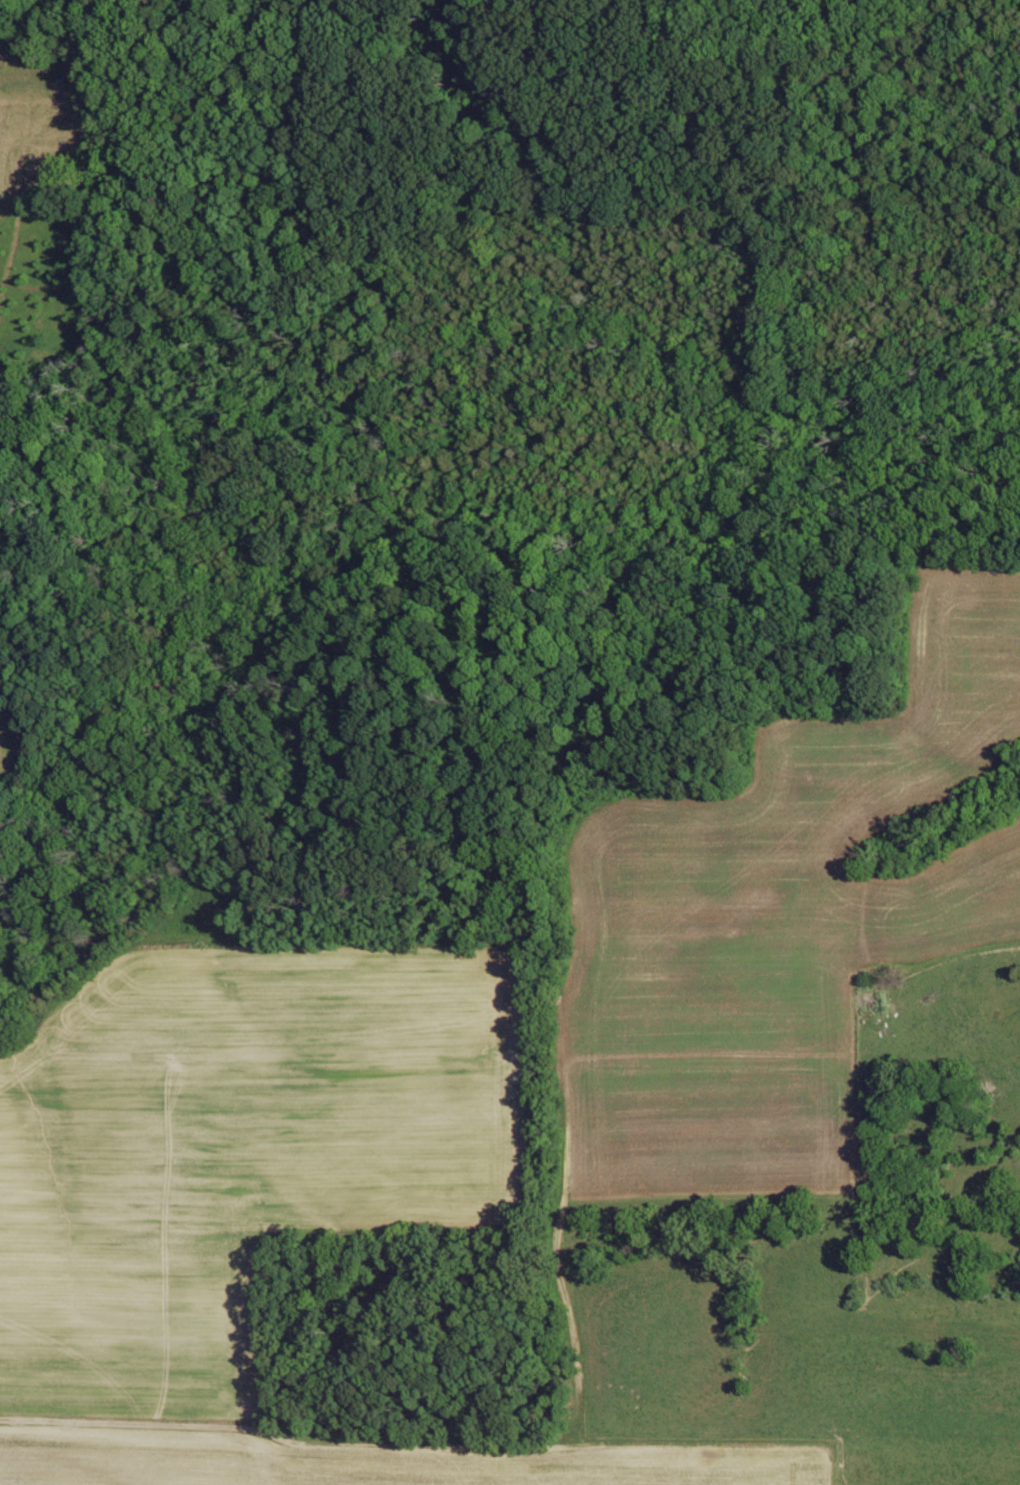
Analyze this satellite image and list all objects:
road: (278, 1427)

